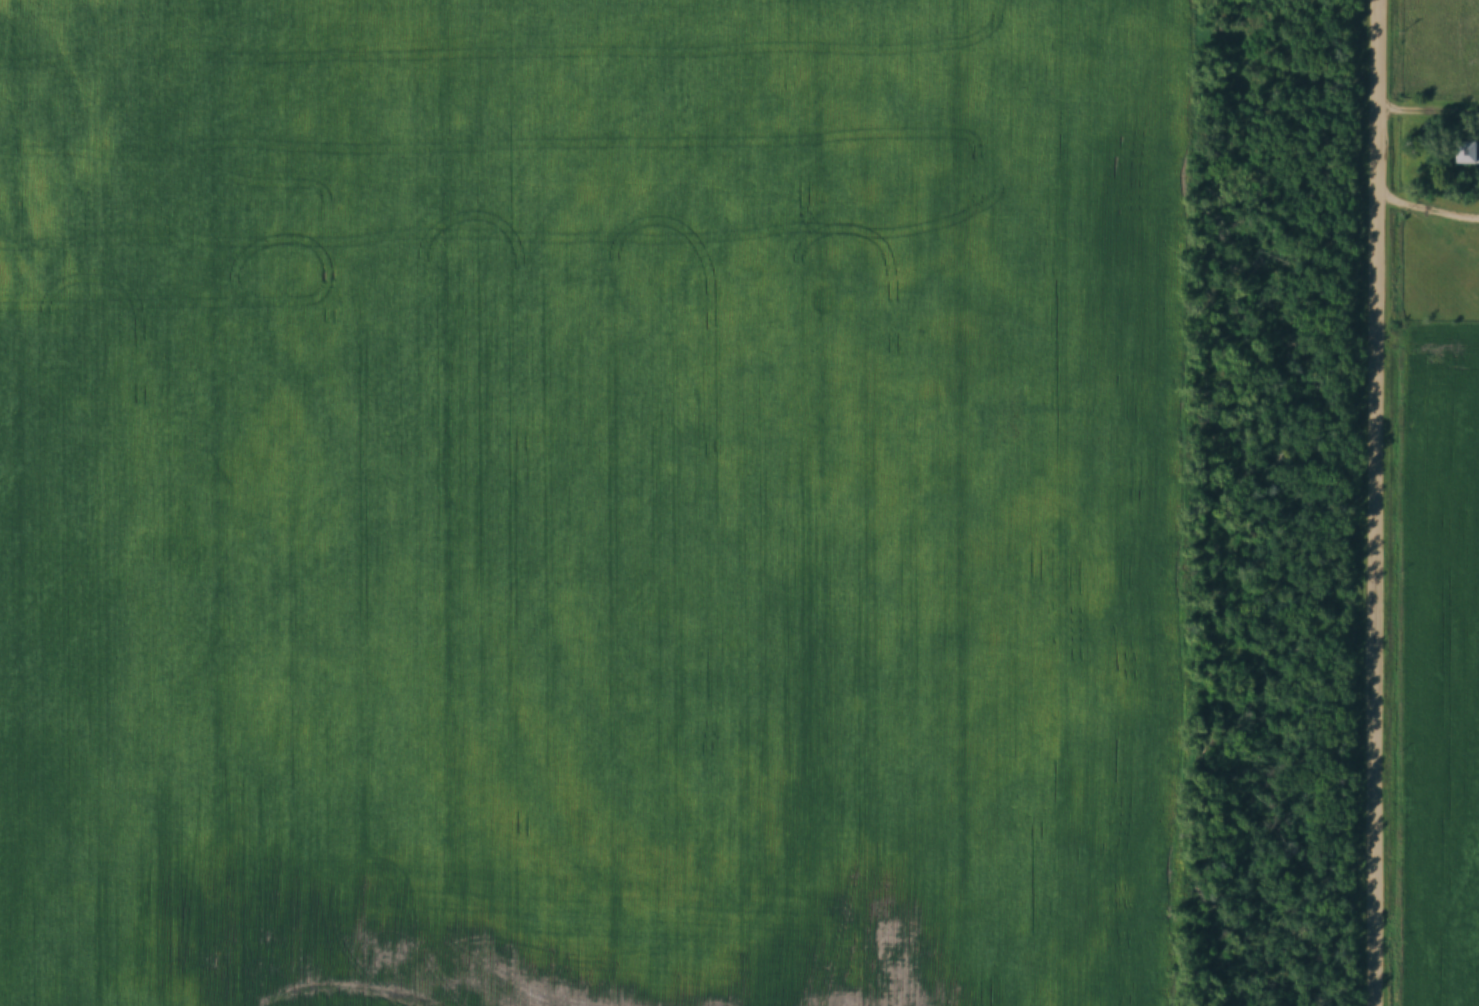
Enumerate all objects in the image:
building: (1468, 151)
road: (1384, 503)

